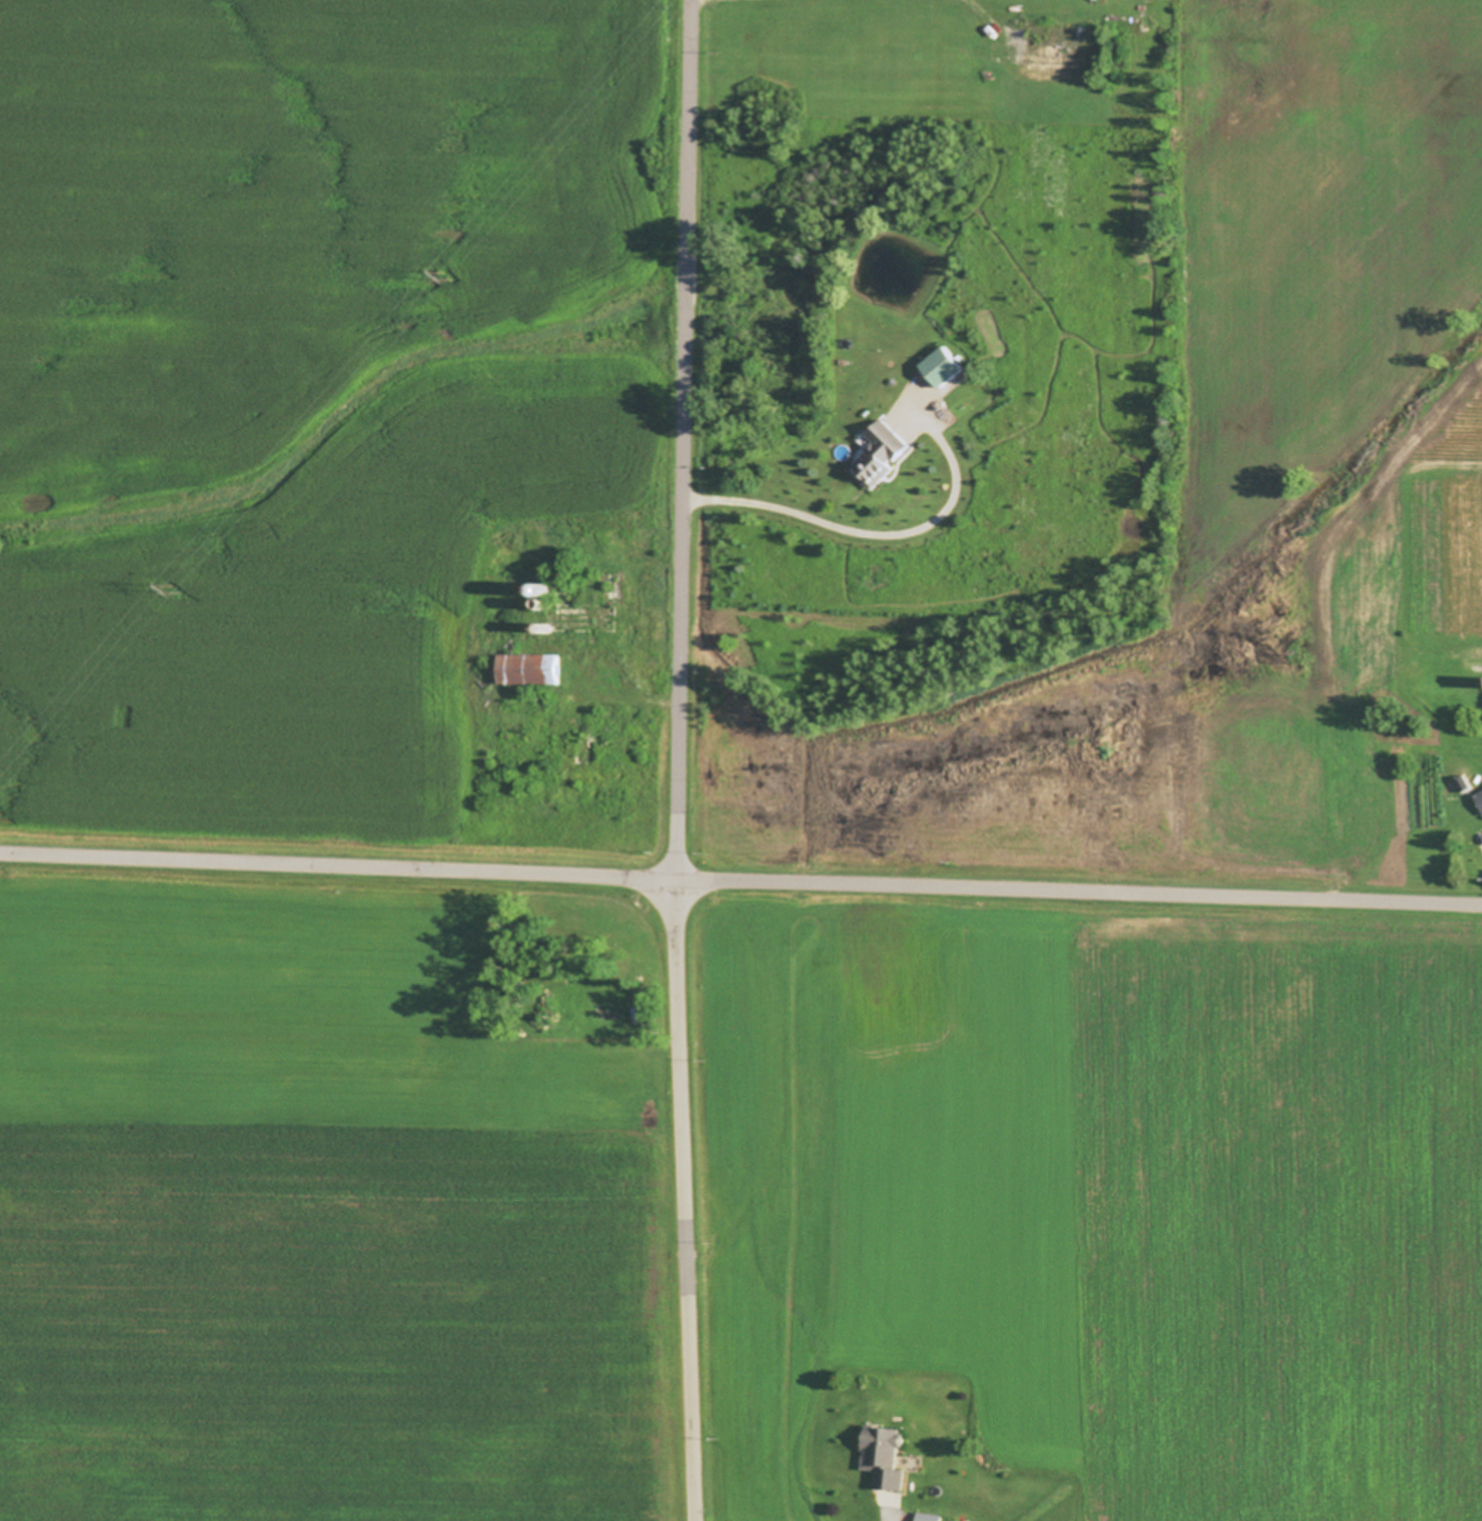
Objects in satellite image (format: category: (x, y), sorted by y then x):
power tower: (445, 276)
building: (948, 365)
building: (886, 452)
building: (553, 587)
power tower: (175, 592)
building: (550, 602)
building: (551, 627)
building: (515, 644)
building: (533, 668)
road: (681, 760)
building: (1465, 783)
building: (1480, 796)
road: (740, 881)
building: (887, 1458)
building: (930, 1516)

